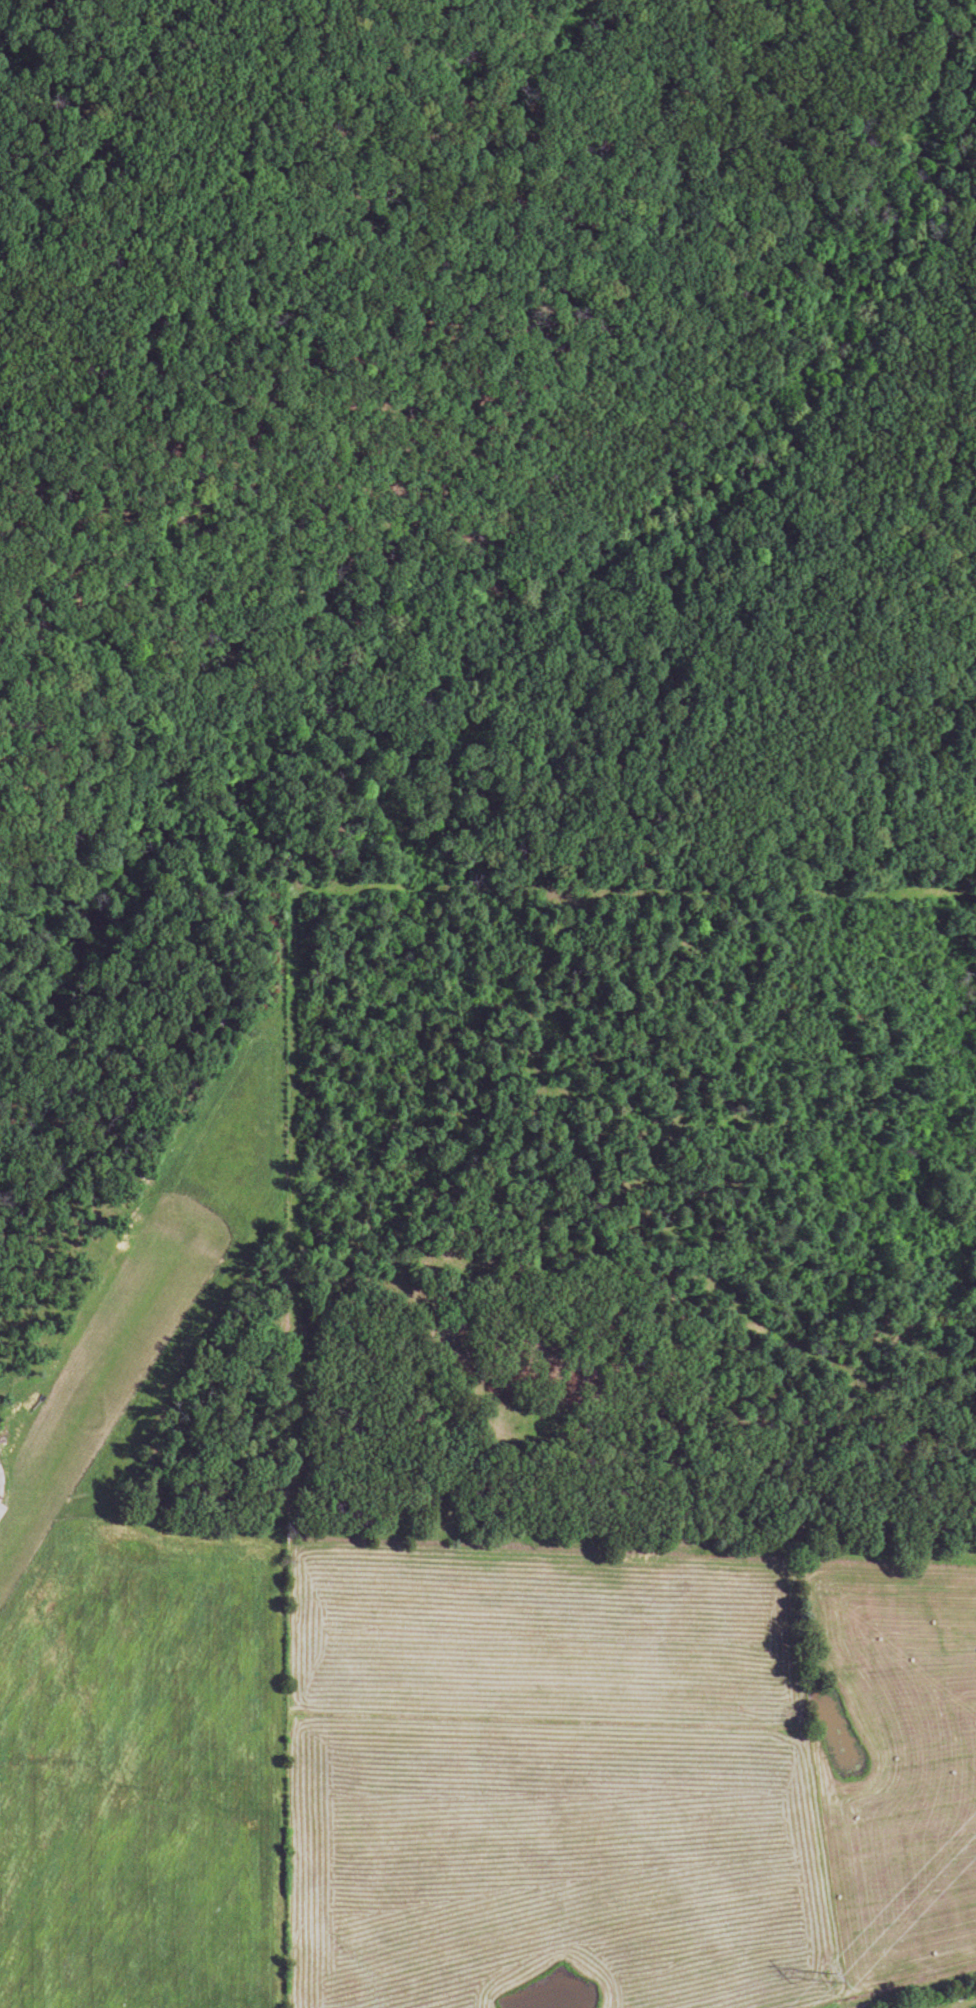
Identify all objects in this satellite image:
power tower: (827, 1977)
railway: (967, 2006)

